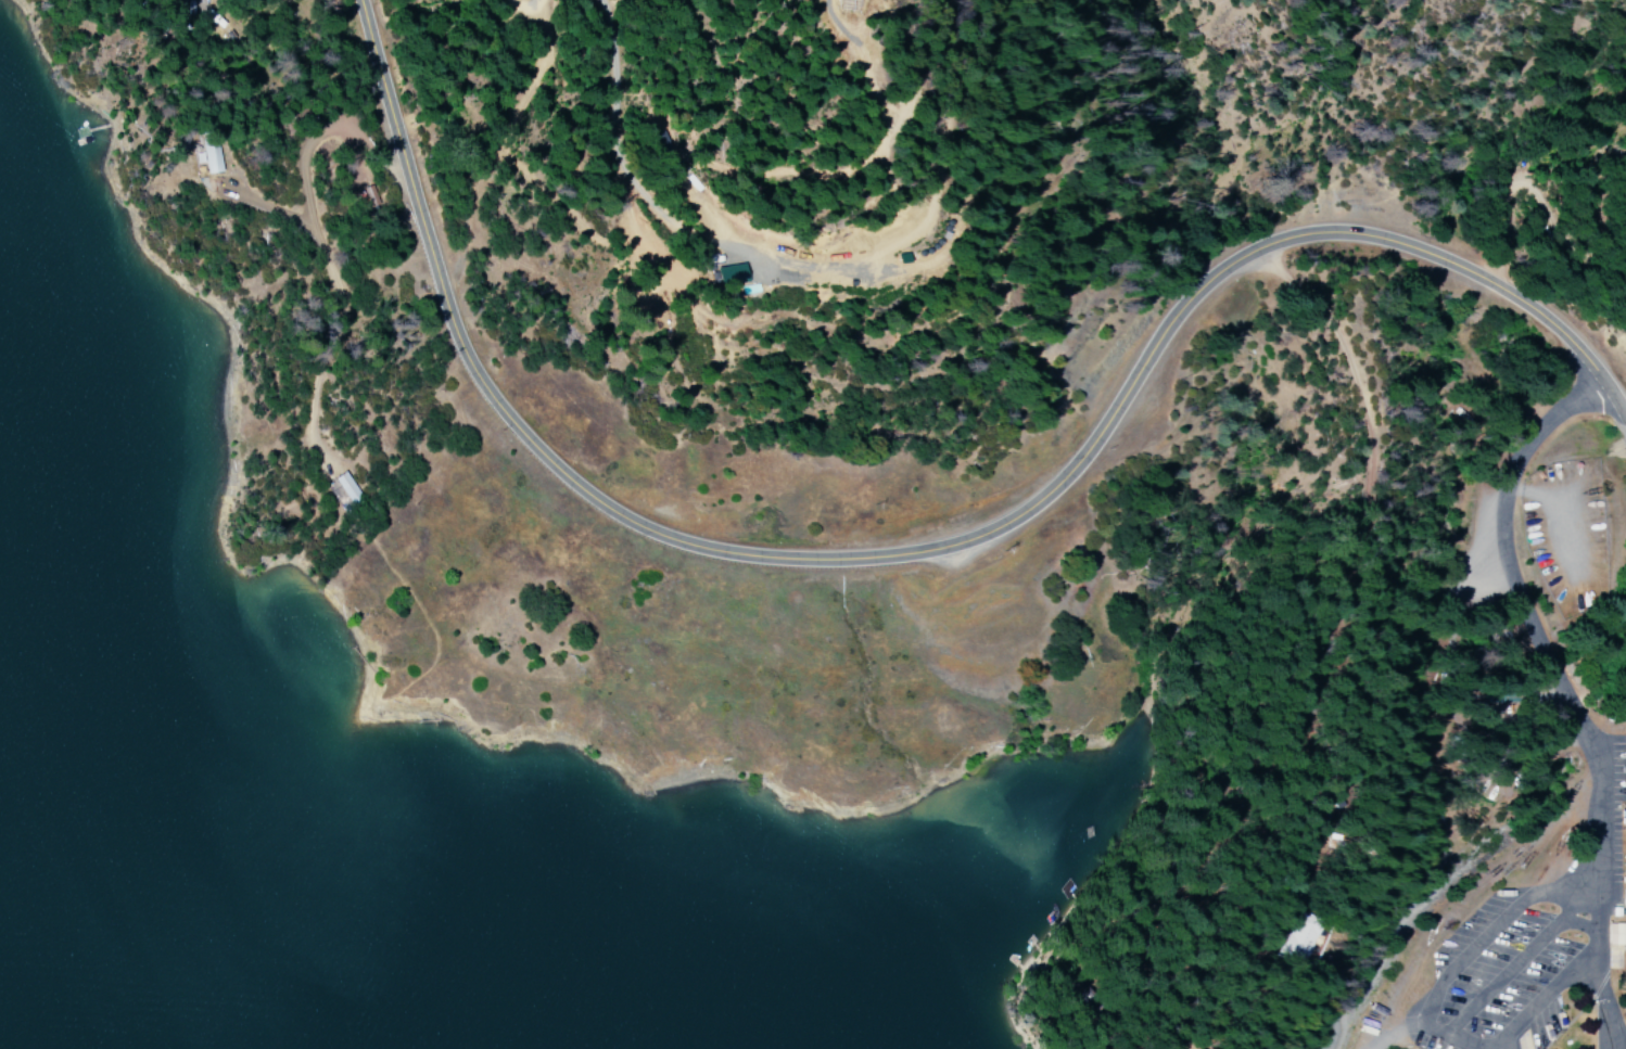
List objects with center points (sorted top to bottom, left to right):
road: (290, 128)
building: (213, 157)
building: (731, 273)
road: (361, 336)
building: (347, 486)
road: (953, 581)
road: (1396, 629)
road: (1553, 660)
road: (1336, 891)
building: (1617, 934)
building: (1304, 937)
river: (72, 994)

